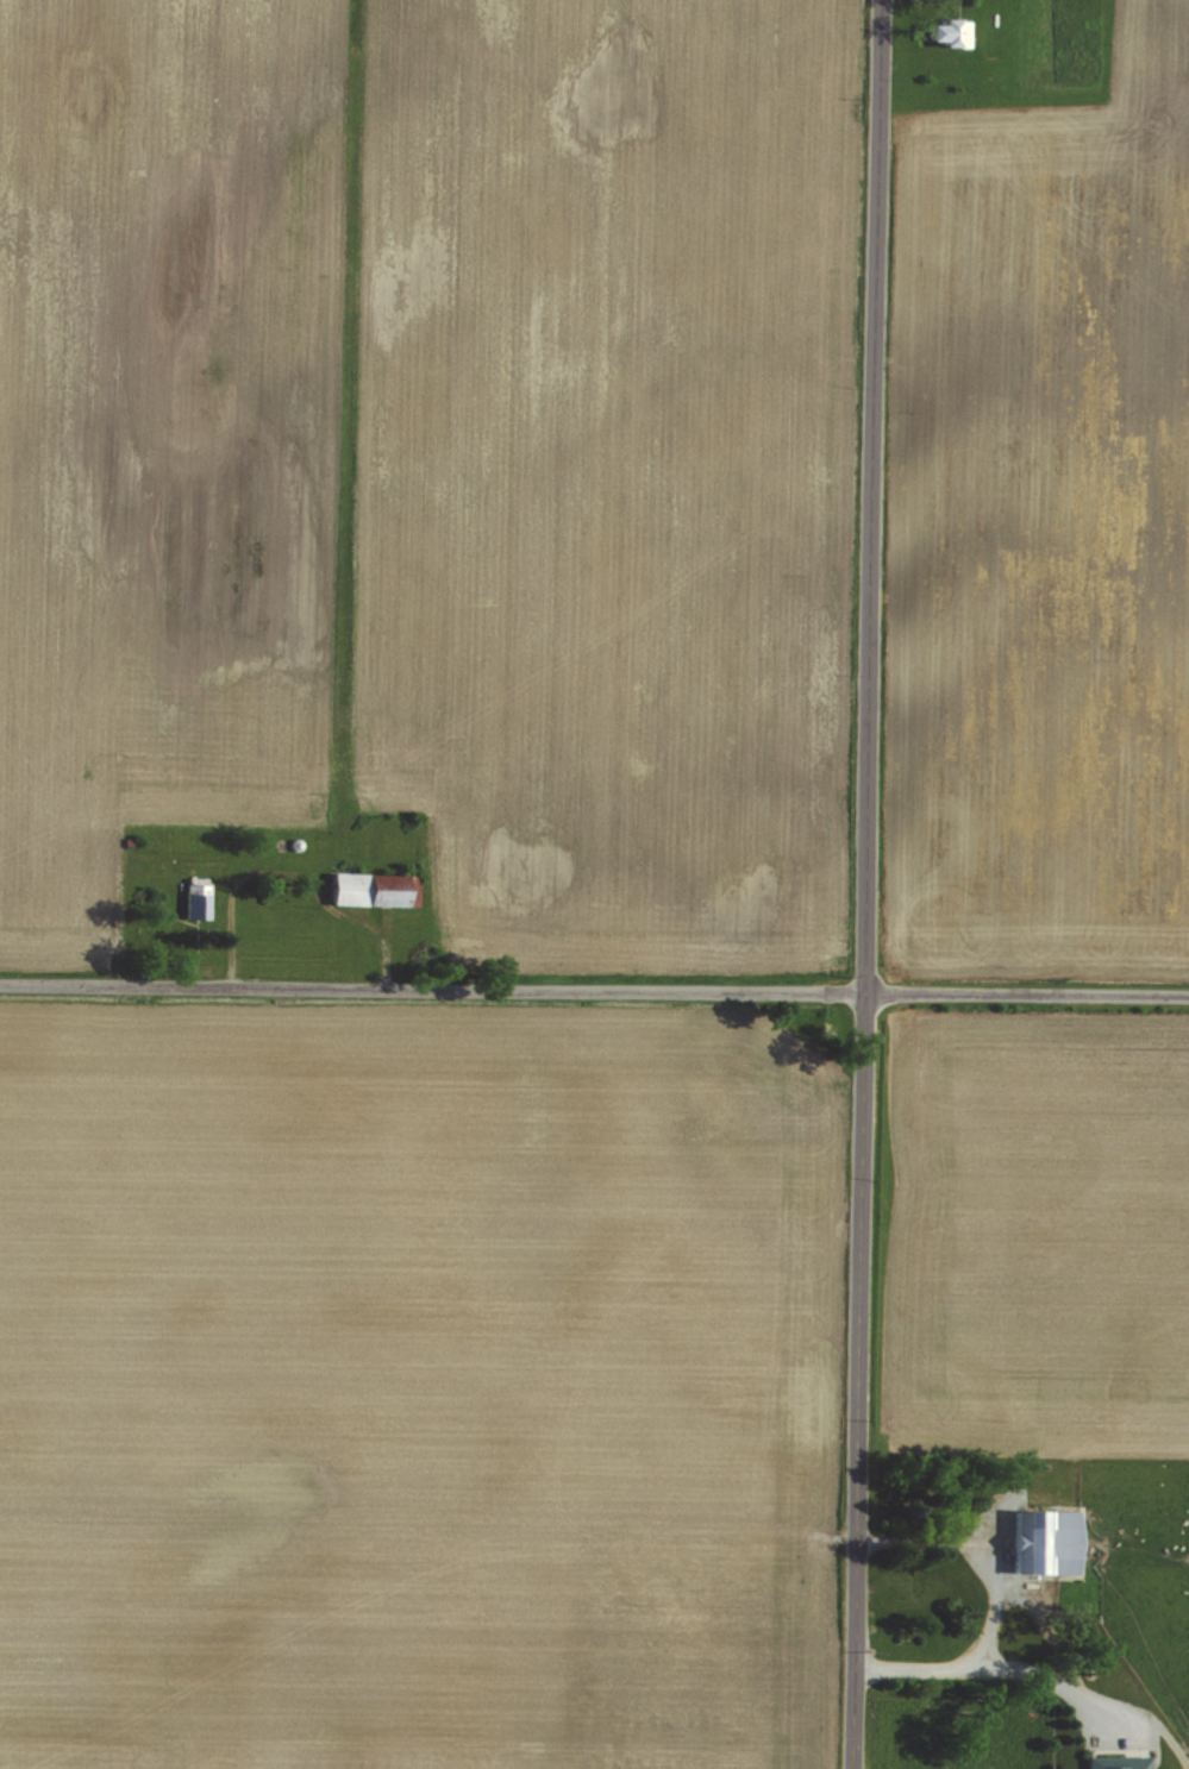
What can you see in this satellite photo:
building: (949, 31)
road: (871, 496)
building: (374, 887)
building: (194, 898)
road: (594, 990)
road: (858, 1381)
building: (1044, 1541)
road: (978, 1545)
road: (1046, 1629)
road: (996, 1667)
building: (1118, 1761)

